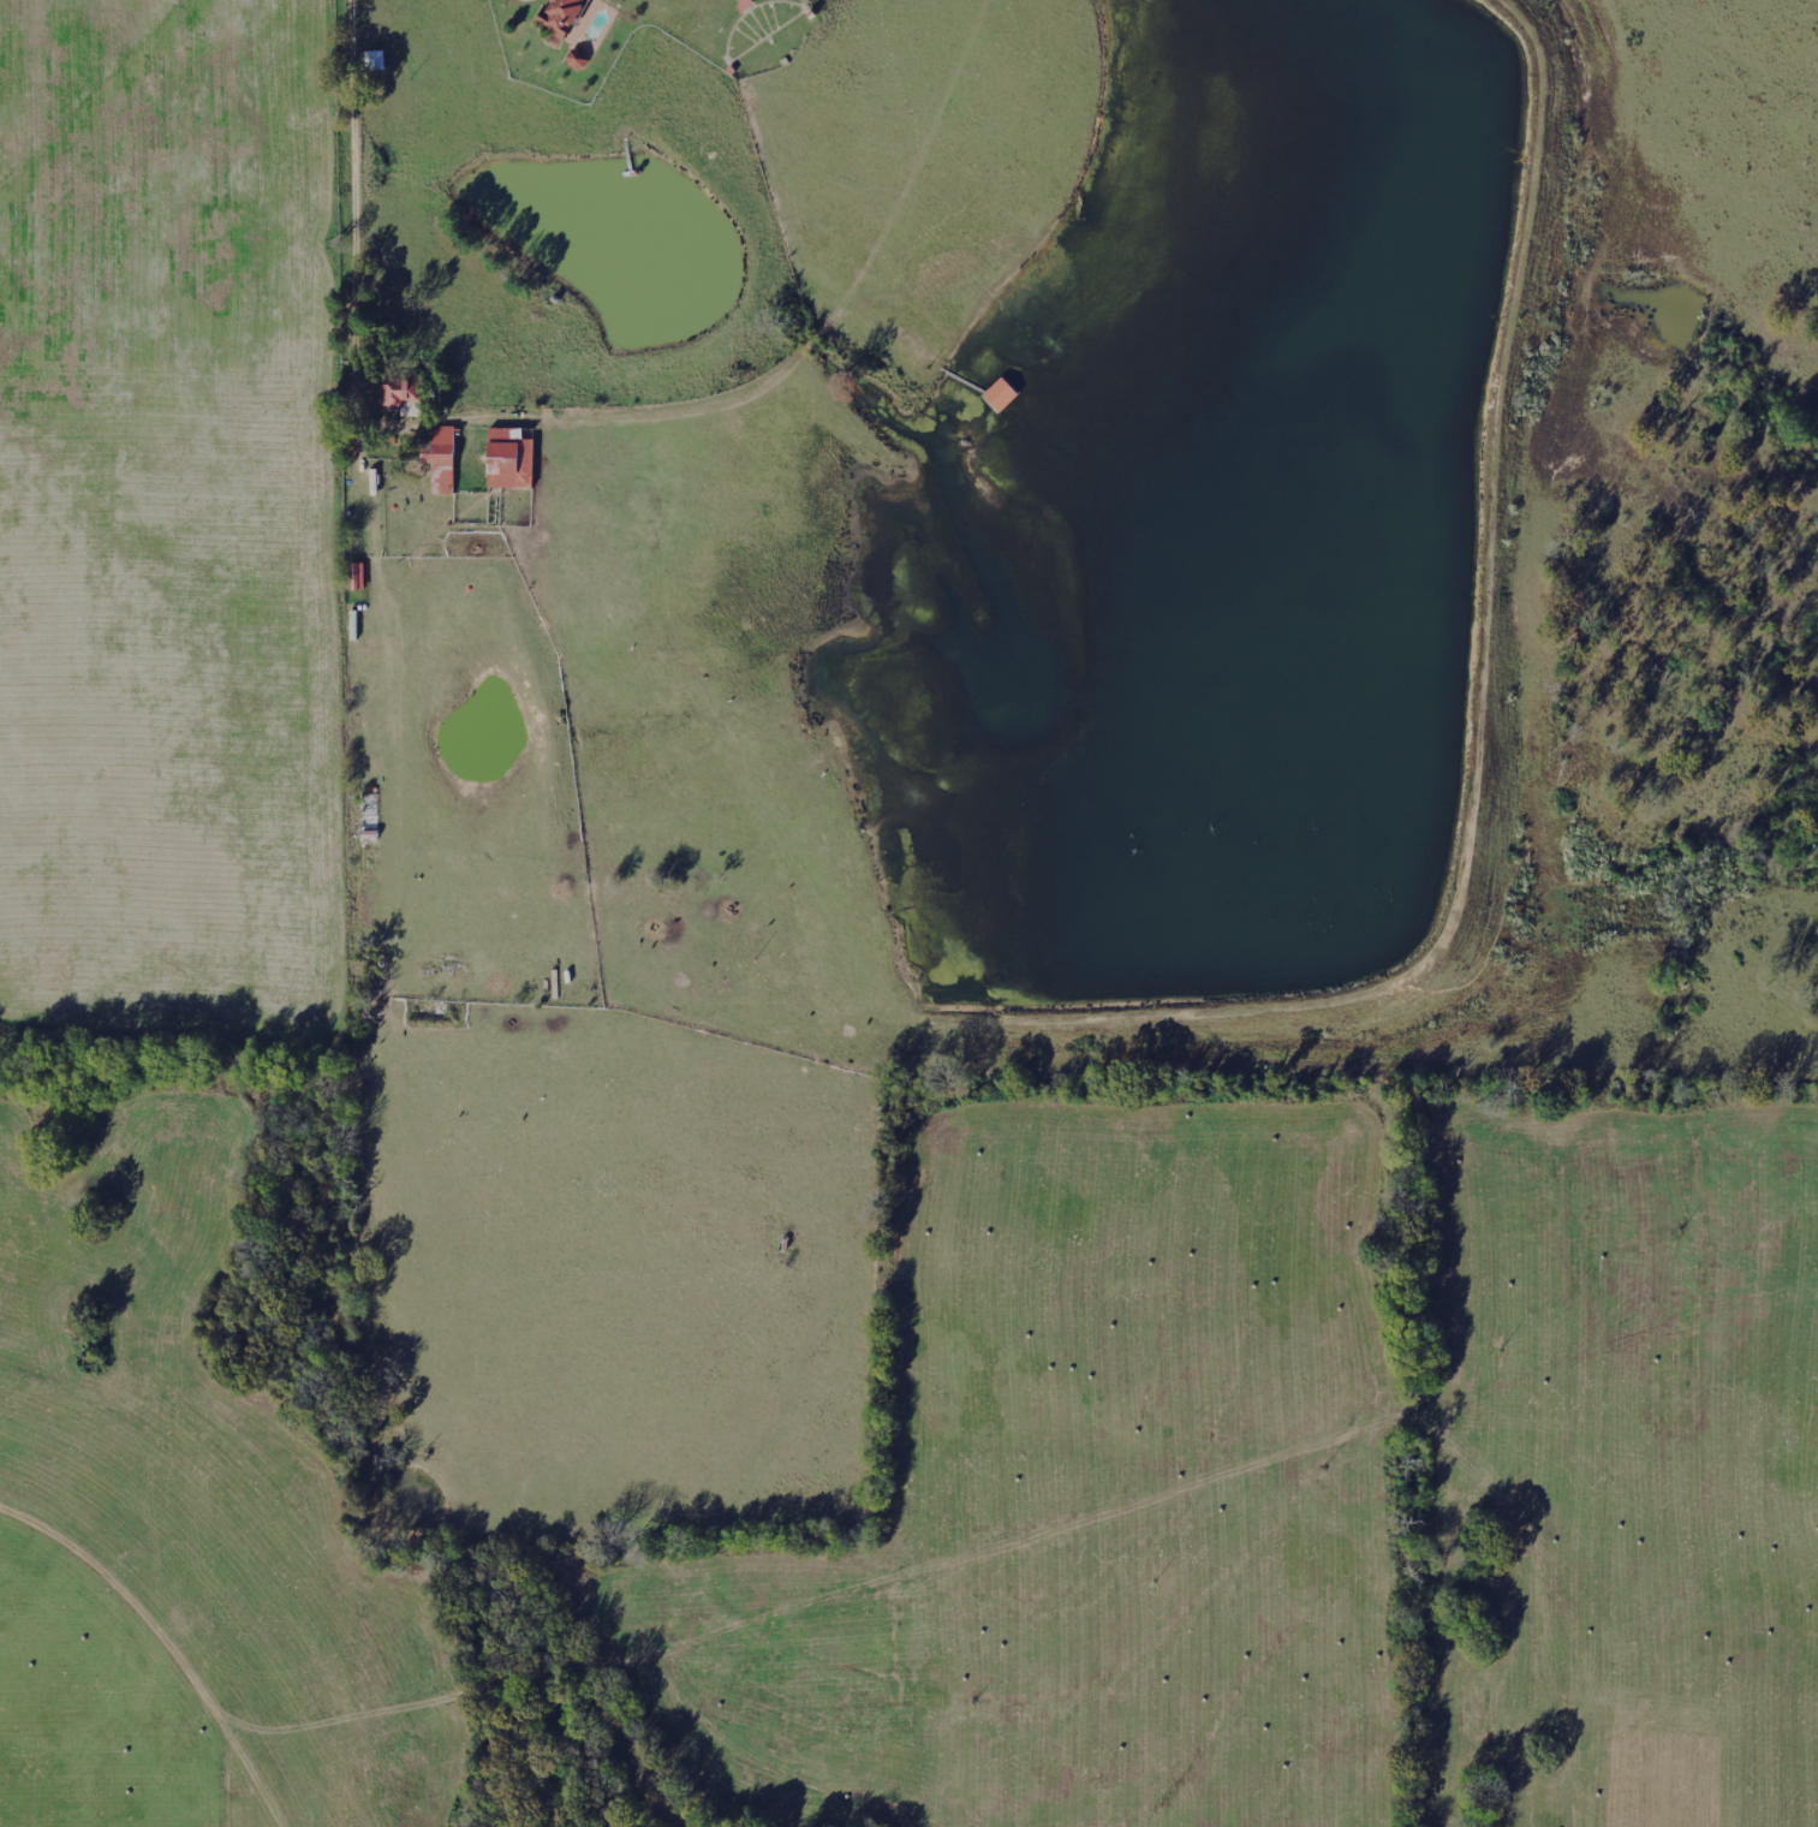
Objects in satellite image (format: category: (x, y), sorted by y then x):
building: (570, 17)
building: (378, 60)
building: (582, 60)
building: (406, 394)
building: (1006, 394)
building: (515, 459)
building: (446, 460)
building: (360, 576)

